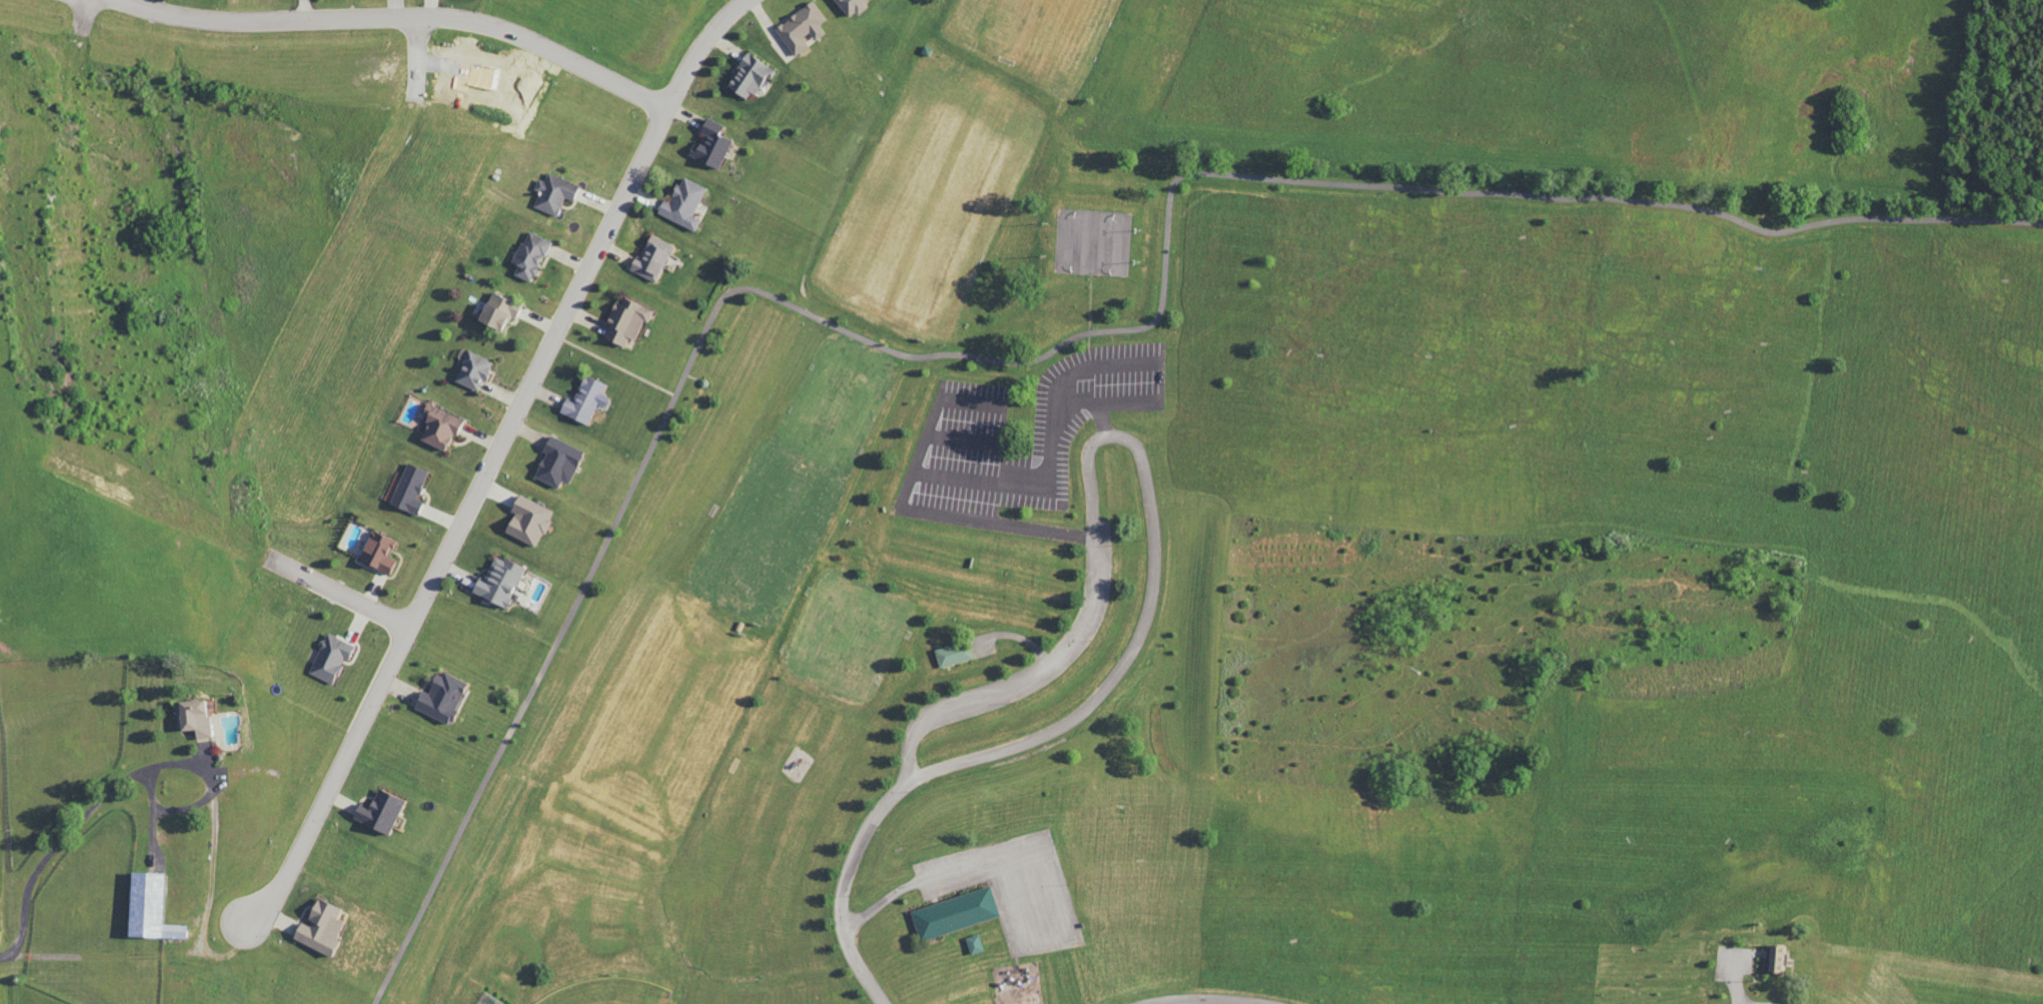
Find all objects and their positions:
building: (849, 6)
road: (401, 16)
building: (801, 27)
building: (747, 77)
building: (709, 144)
building: (553, 193)
building: (683, 203)
building: (529, 256)
building: (650, 258)
building: (495, 313)
building: (624, 322)
road: (1050, 352)
building: (472, 371)
building: (583, 401)
building: (437, 427)
road: (1135, 441)
building: (556, 462)
road: (490, 464)
building: (408, 490)
building: (526, 520)
park: (1314, 536)
building: (377, 553)
building: (497, 583)
road: (339, 592)
building: (952, 654)
building: (329, 659)
building: (440, 697)
building: (194, 718)
building: (377, 813)
road: (963, 867)
road: (851, 890)
building: (142, 906)
building: (954, 914)
building: (318, 928)
building: (172, 932)
building: (973, 945)
building: (1775, 957)

